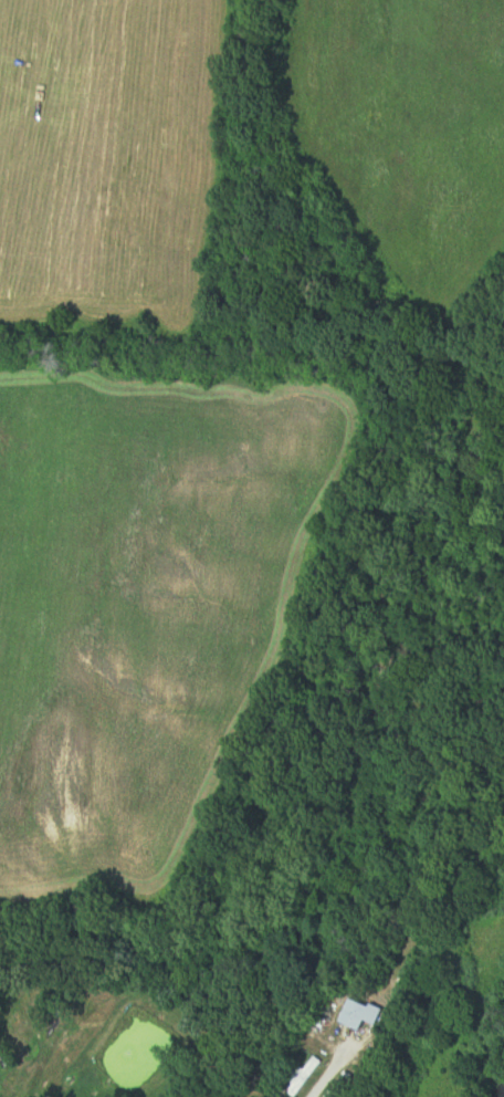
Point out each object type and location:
building: (365, 1014)
road: (333, 1067)

